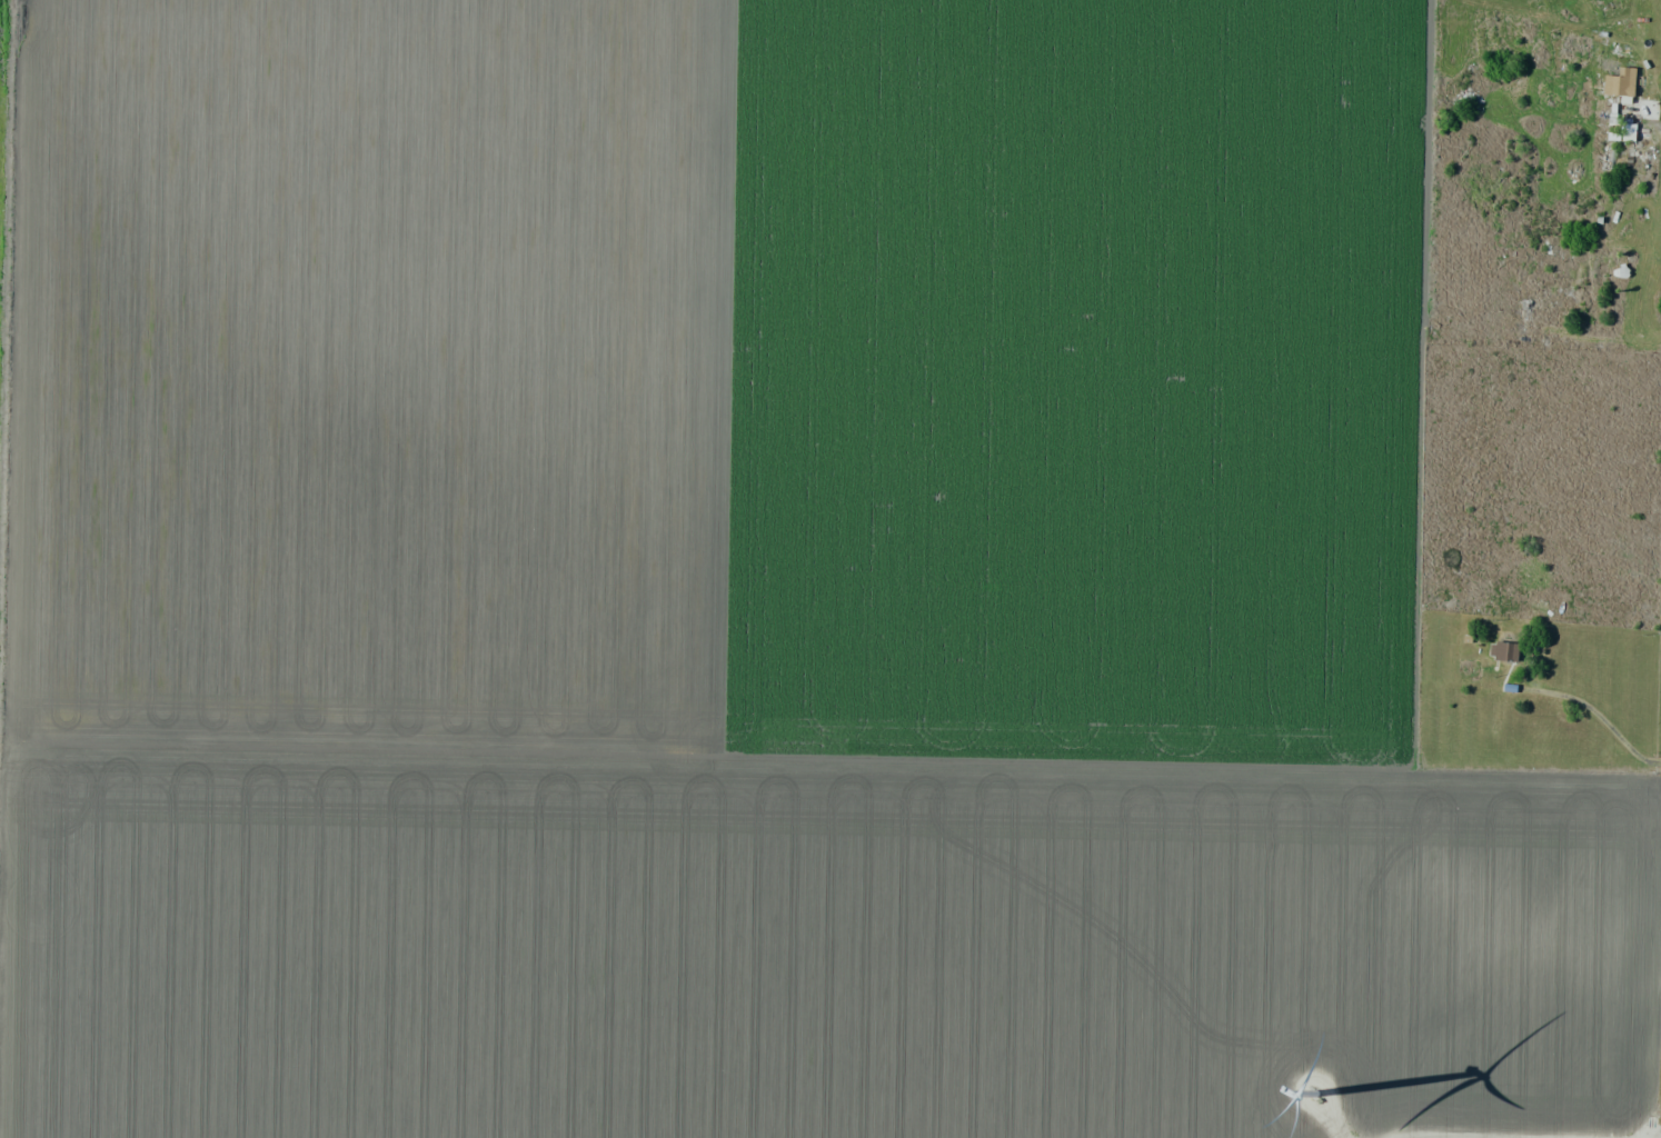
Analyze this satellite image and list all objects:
building: (1605, 159)
wind turbine: (1305, 1092)

